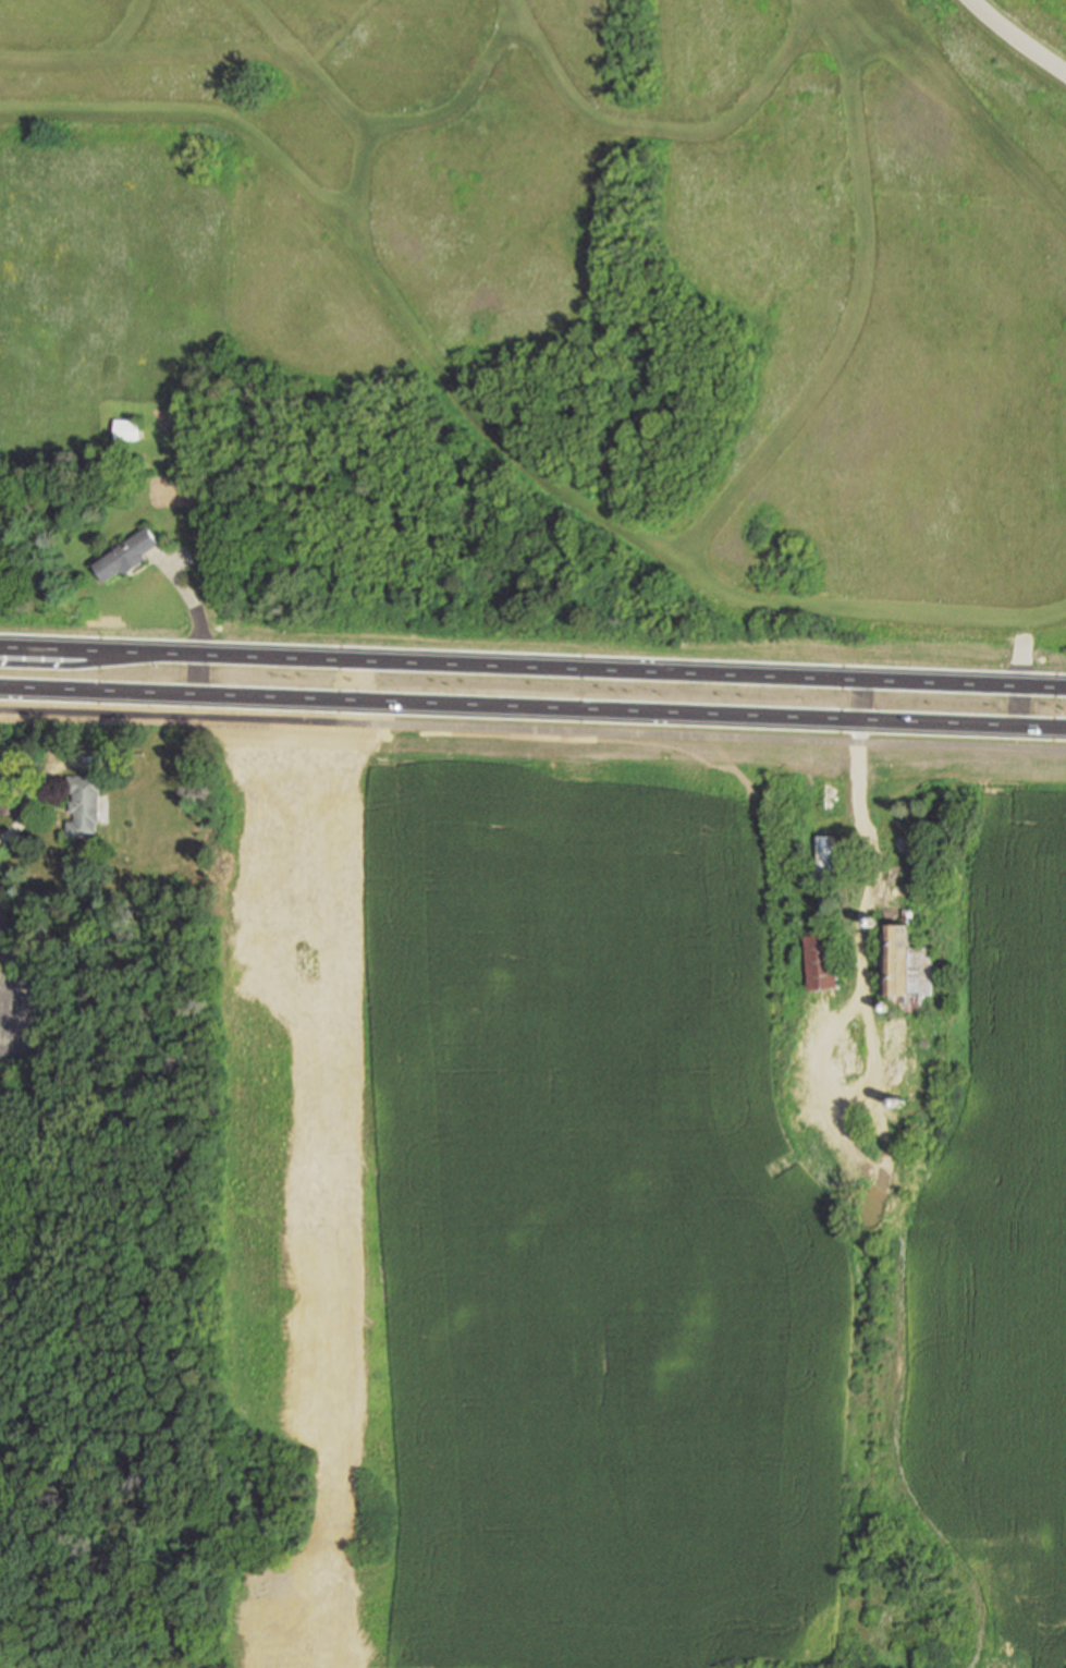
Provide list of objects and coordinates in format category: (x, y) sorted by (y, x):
track: (121, 33)
road: (336, 34)
park: (1022, 36)
road: (1015, 39)
road: (84, 58)
road: (303, 68)
road: (969, 104)
road: (414, 119)
road: (663, 133)
road: (849, 307)
track: (412, 325)
road: (489, 427)
building: (131, 428)
building: (132, 553)
road: (97, 642)
road: (1021, 648)
road: (630, 662)
road: (532, 707)
road: (1061, 727)
road: (532, 730)
building: (279, 741)
building: (819, 751)
building: (885, 754)
building: (826, 794)
building: (14, 798)
building: (89, 804)
building: (919, 845)
building: (822, 855)
road: (875, 873)
building: (821, 959)
building: (900, 962)
road: (11, 979)
road: (5, 1003)
crop: (652, 1242)

